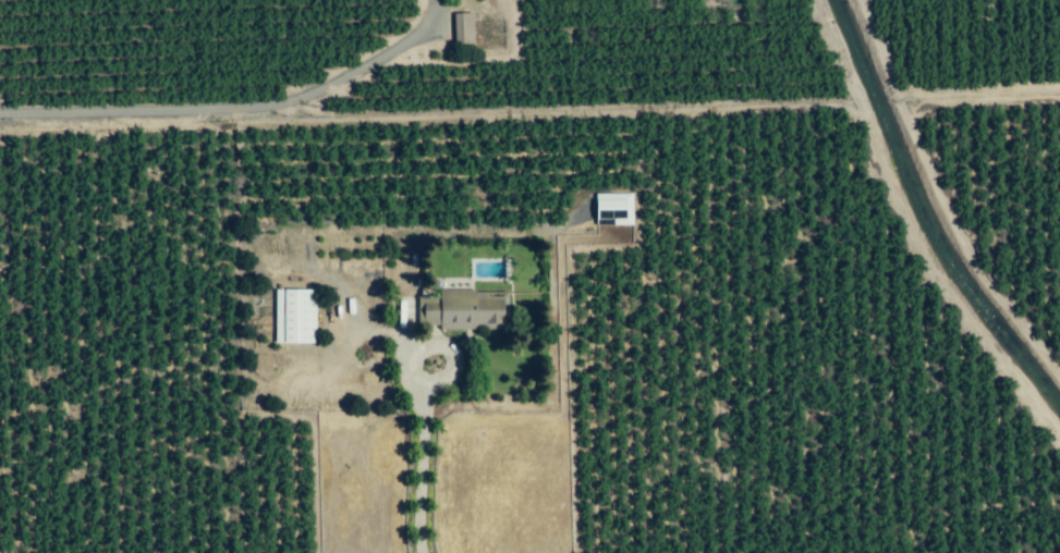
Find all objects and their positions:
building: (465, 28)
road: (230, 107)
building: (616, 209)
river: (925, 218)
crop: (704, 244)
building: (464, 309)
building: (297, 316)
road: (419, 429)

